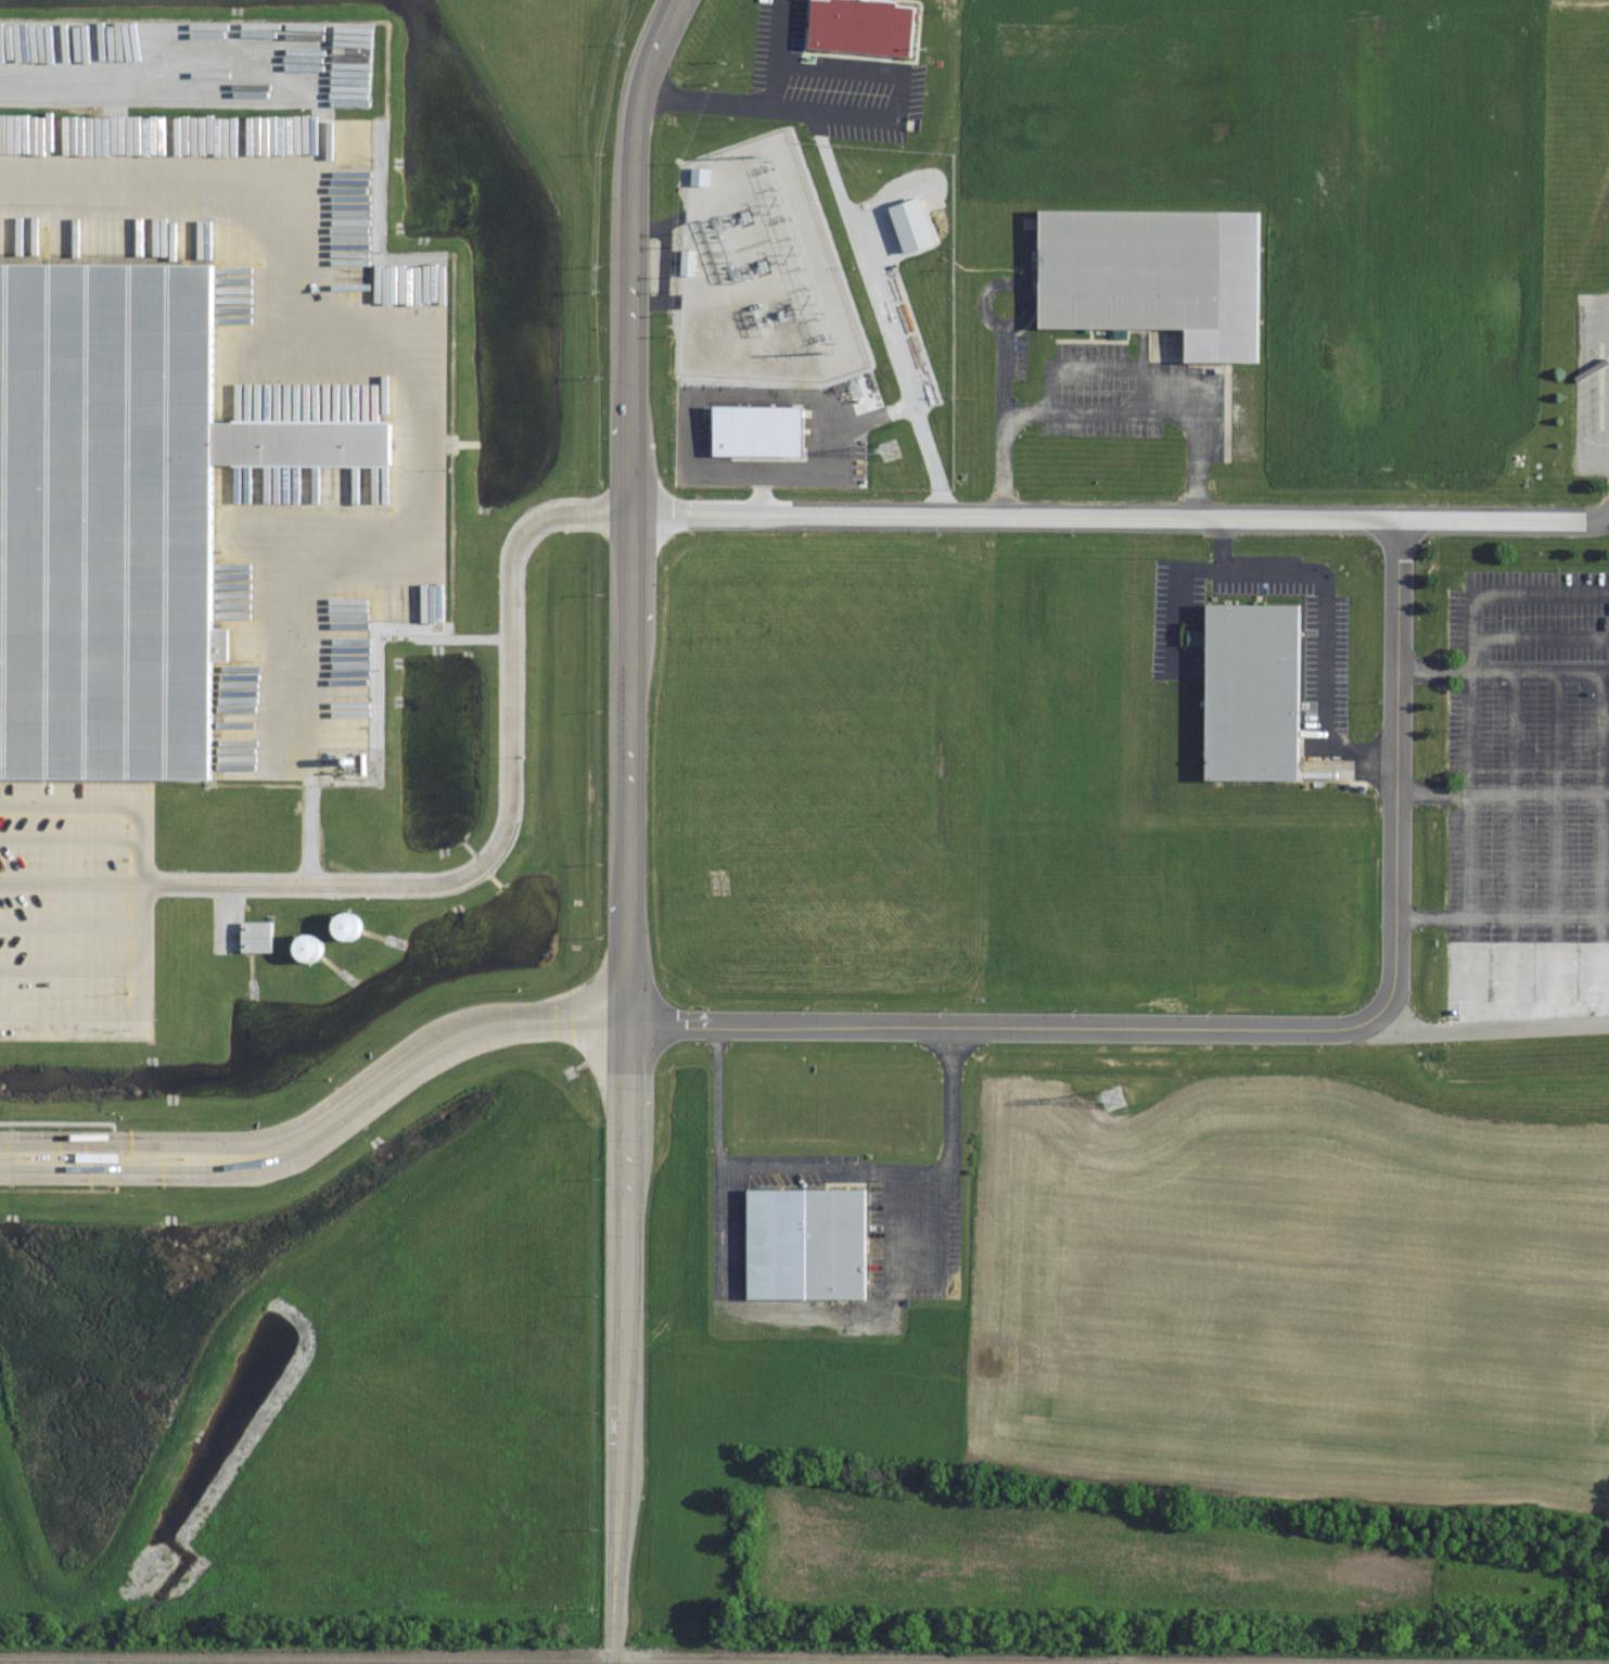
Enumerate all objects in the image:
road: (754, 105)
power substation: (761, 272)
building: (1147, 276)
road: (406, 335)
building: (312, 442)
power tower: (886, 452)
road: (1505, 518)
building: (99, 524)
road: (1321, 618)
building: (1243, 673)
road: (1393, 770)
road: (69, 801)
road: (310, 809)
road: (627, 828)
road: (69, 839)
road: (469, 872)
road: (139, 909)
road: (69, 929)
road: (69, 971)
road: (69, 1015)
road: (1499, 1027)
power tower: (1102, 1098)
road: (324, 1123)
road: (838, 1164)
building: (800, 1243)
railway: (804, 1660)

